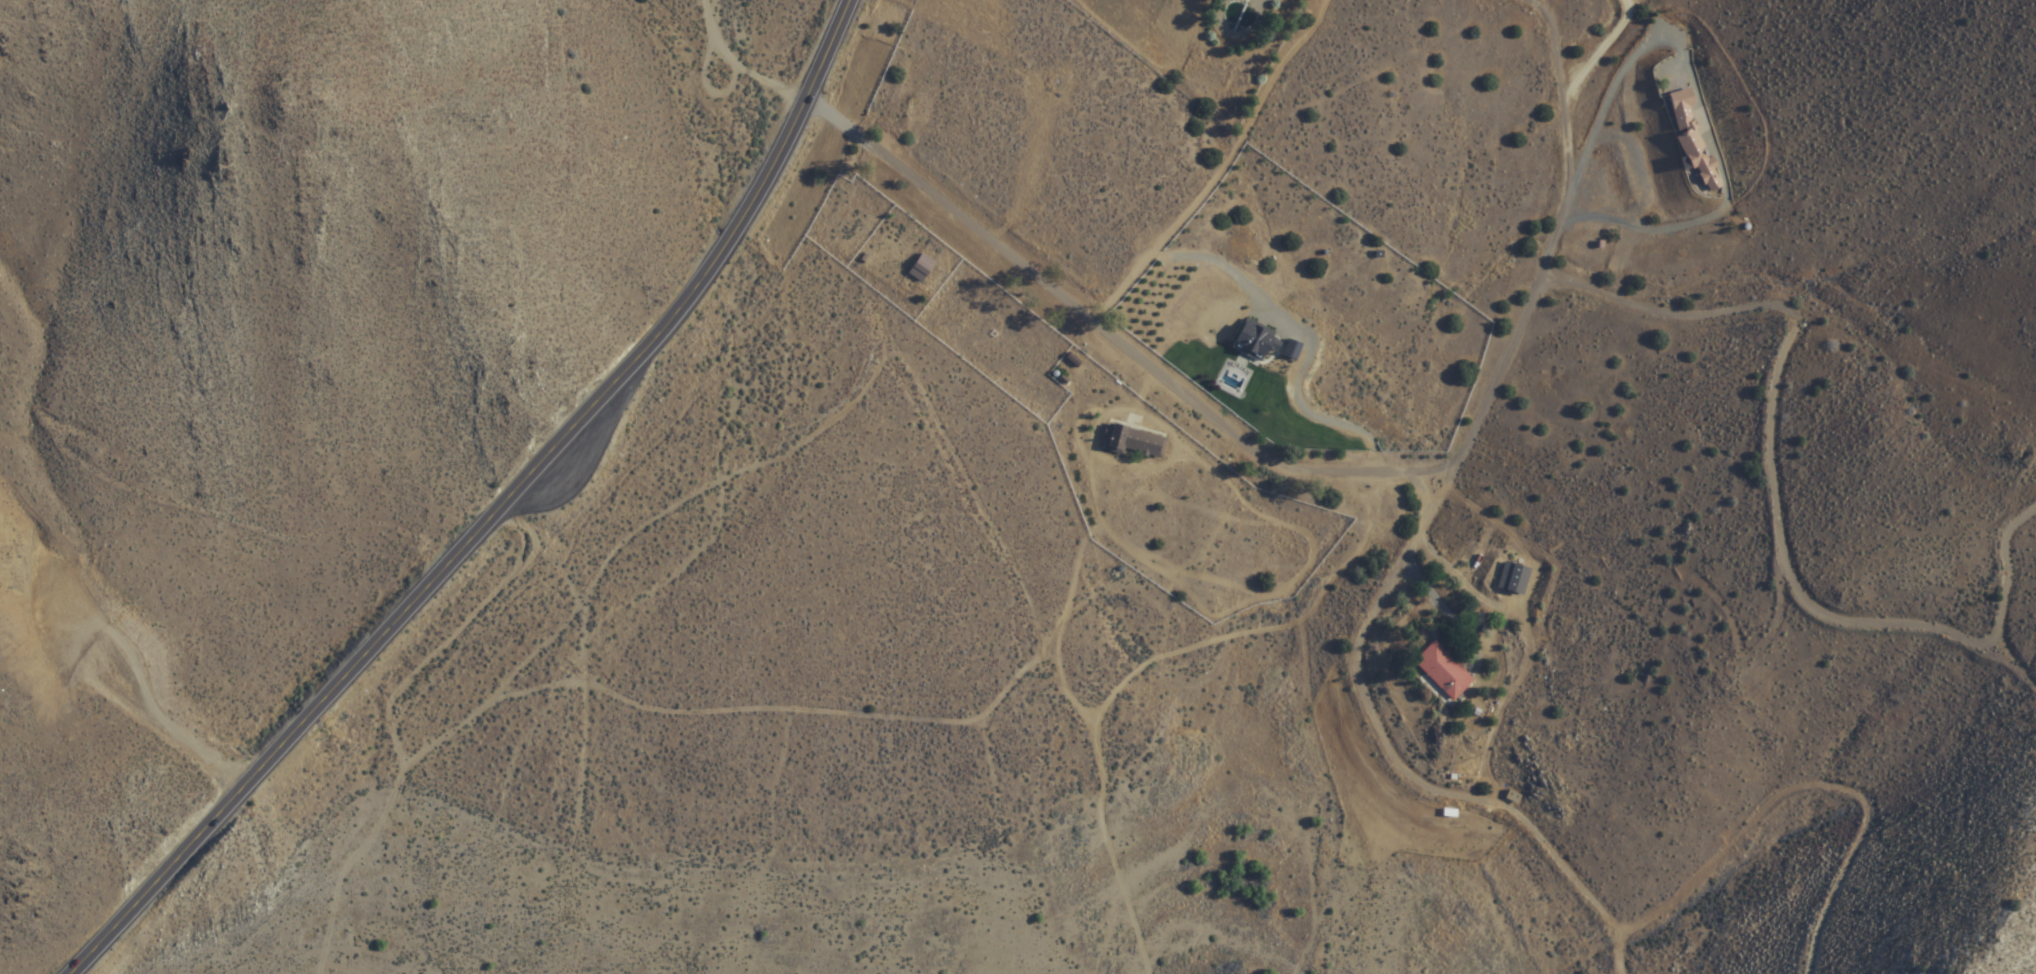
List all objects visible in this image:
building: (1681, 105)
building: (1697, 156)
building: (922, 267)
building: (1132, 442)
road: (496, 510)
road: (985, 512)
road: (615, 554)
building: (1444, 670)
road: (1025, 708)
road: (753, 710)
road: (1007, 837)
road: (1071, 957)

